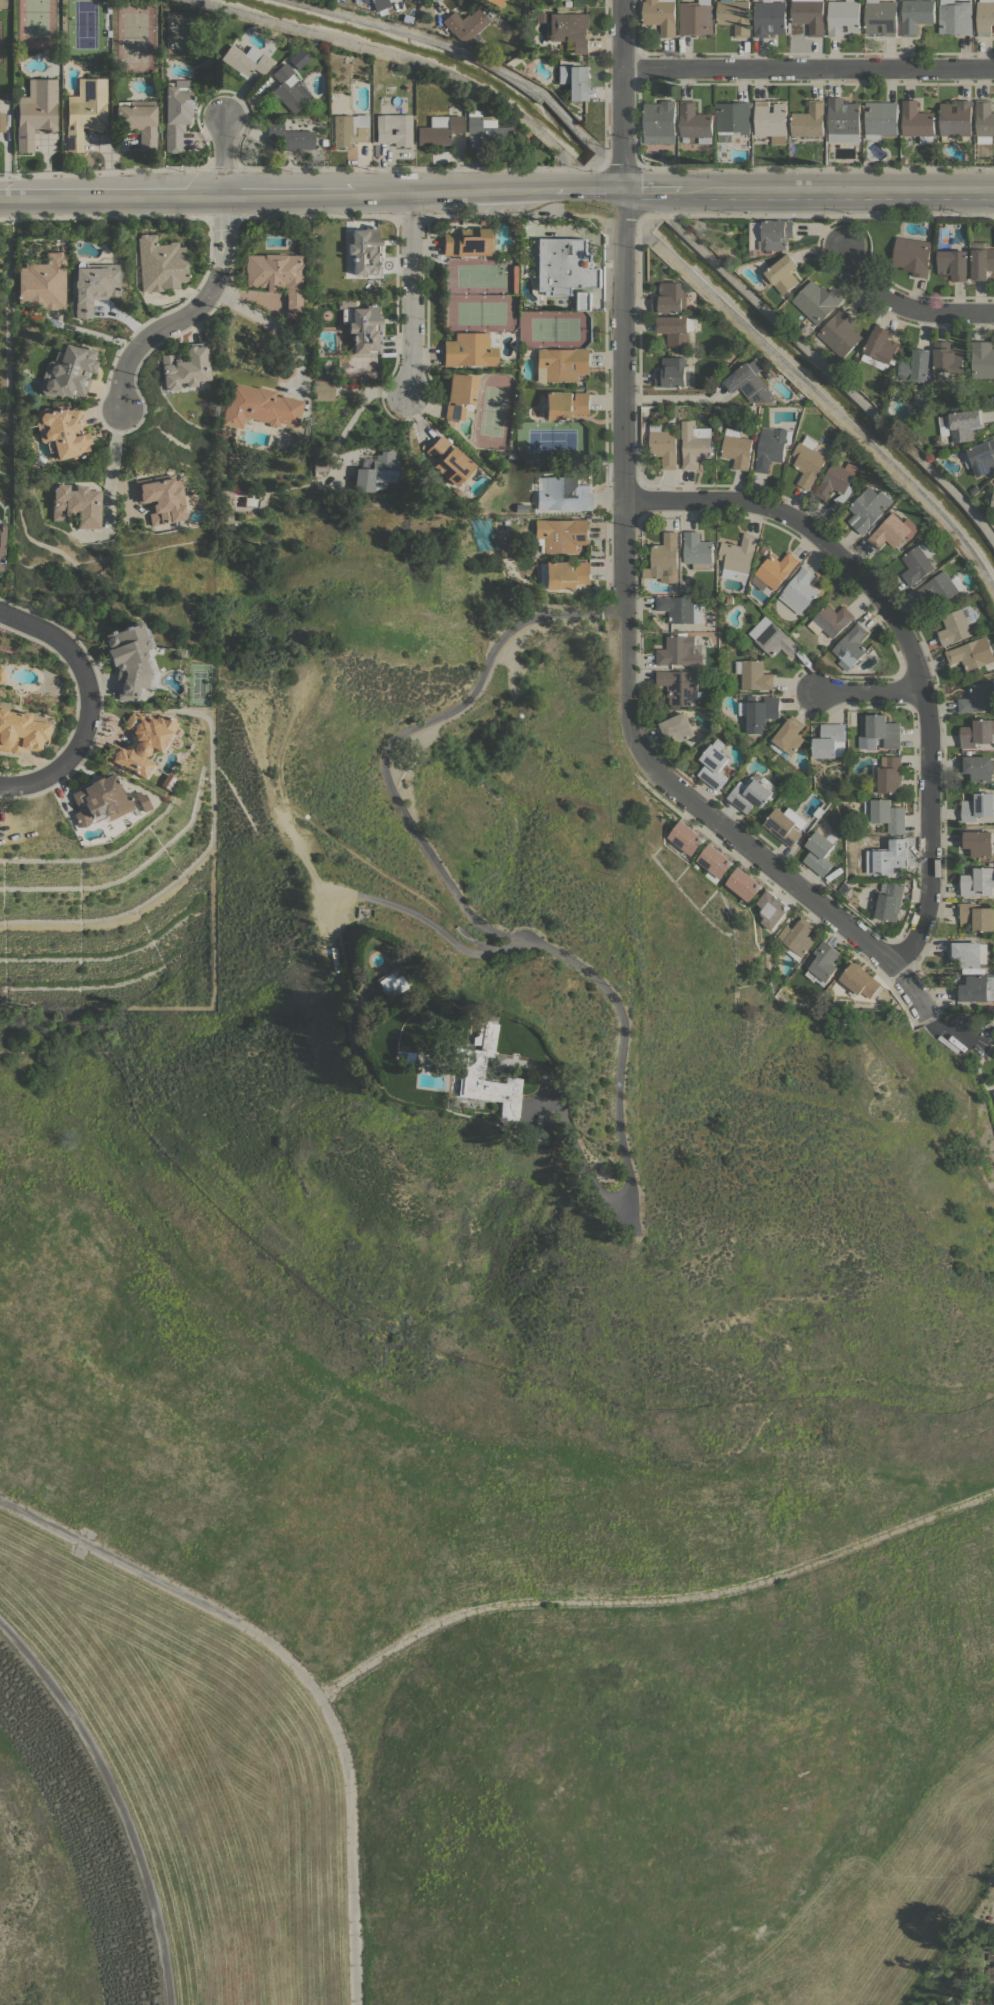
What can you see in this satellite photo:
building: (496, 2)
building: (567, 3)
building: (379, 4)
building: (489, 14)
building: (661, 15)
building: (735, 15)
building: (809, 15)
building: (917, 15)
building: (696, 17)
building: (770, 17)
building: (844, 17)
building: (881, 17)
building: (955, 17)
building: (985, 17)
building: (465, 24)
building: (567, 28)
road: (471, 54)
building: (296, 58)
road: (406, 59)
building: (246, 60)
building: (205, 63)
building: (96, 68)
road: (808, 68)
building: (574, 80)
building: (287, 88)
road: (622, 94)
building: (406, 100)
building: (319, 106)
building: (36, 111)
building: (85, 111)
building: (176, 113)
building: (881, 118)
building: (733, 120)
building: (771, 120)
building: (809, 120)
building: (844, 120)
building: (956, 120)
building: (2, 121)
building: (138, 121)
building: (917, 121)
building: (985, 121)
building: (660, 122)
building: (695, 122)
building: (393, 128)
building: (348, 129)
building: (439, 130)
building: (488, 130)
building: (525, 134)
building: (291, 136)
building: (324, 142)
road: (222, 155)
building: (932, 160)
building: (903, 161)
road: (307, 167)
road: (621, 167)
road: (817, 168)
road: (496, 189)
road: (470, 215)
road: (808, 215)
road: (410, 216)
road: (100, 217)
road: (221, 217)
road: (318, 217)
road: (220, 232)
building: (769, 236)
building: (470, 242)
building: (365, 251)
building: (912, 255)
building: (981, 260)
building: (160, 263)
building: (953, 264)
building: (565, 266)
building: (783, 274)
building: (276, 275)
building: (43, 282)
building: (93, 285)
road: (411, 293)
building: (670, 298)
building: (583, 300)
building: (817, 301)
road: (905, 305)
road: (275, 326)
building: (362, 326)
building: (676, 329)
road: (156, 331)
building: (841, 333)
building: (880, 348)
building: (470, 349)
building: (697, 356)
building: (947, 359)
building: (982, 359)
building: (327, 364)
building: (562, 364)
road: (824, 364)
building: (186, 366)
building: (914, 369)
building: (68, 371)
building: (675, 372)
building: (769, 373)
building: (749, 383)
building: (323, 390)
building: (459, 394)
road: (675, 397)
building: (892, 397)
road: (820, 400)
road: (363, 401)
building: (565, 404)
building: (260, 406)
building: (889, 409)
building: (944, 424)
building: (964, 424)
building: (63, 431)
building: (645, 437)
building: (938, 442)
building: (696, 444)
building: (664, 445)
building: (771, 446)
building: (737, 447)
building: (981, 457)
building: (40, 459)
building: (449, 460)
building: (808, 461)
building: (872, 463)
road: (110, 470)
building: (376, 470)
building: (837, 479)
building: (975, 489)
building: (563, 492)
building: (162, 498)
road: (681, 500)
building: (993, 504)
building: (78, 505)
building: (521, 507)
building: (869, 508)
building: (894, 531)
building: (562, 534)
building: (1, 545)
building: (698, 551)
building: (737, 555)
building: (666, 558)
building: (919, 562)
building: (774, 570)
building: (564, 574)
building: (941, 587)
building: (799, 590)
building: (681, 608)
building: (831, 620)
building: (958, 624)
building: (773, 637)
building: (851, 646)
building: (682, 650)
building: (973, 653)
building: (131, 660)
road: (625, 669)
building: (754, 674)
building: (1, 676)
building: (993, 680)
building: (681, 686)
road: (869, 690)
road: (923, 693)
building: (978, 698)
road: (91, 700)
building: (759, 712)
building: (659, 716)
building: (676, 727)
building: (20, 730)
building: (879, 731)
building: (977, 732)
building: (788, 737)
building: (830, 740)
building: (142, 742)
building: (715, 764)
building: (978, 767)
building: (888, 775)
building: (167, 781)
building: (752, 792)
building: (100, 800)
building: (142, 801)
building: (978, 807)
building: (889, 815)
building: (786, 825)
building: (686, 837)
building: (978, 842)
building: (819, 853)
building: (888, 857)
building: (715, 861)
building: (978, 881)
building: (744, 884)
building: (887, 902)
building: (772, 909)
building: (977, 916)
road: (472, 917)
road: (428, 922)
building: (796, 938)
building: (969, 953)
building: (822, 962)
building: (860, 980)
building: (392, 983)
building: (976, 988)
road: (949, 1027)
building: (476, 1071)
building: (993, 1092)
road: (168, 1586)
road: (654, 1600)
road: (115, 1800)
road: (351, 1847)

